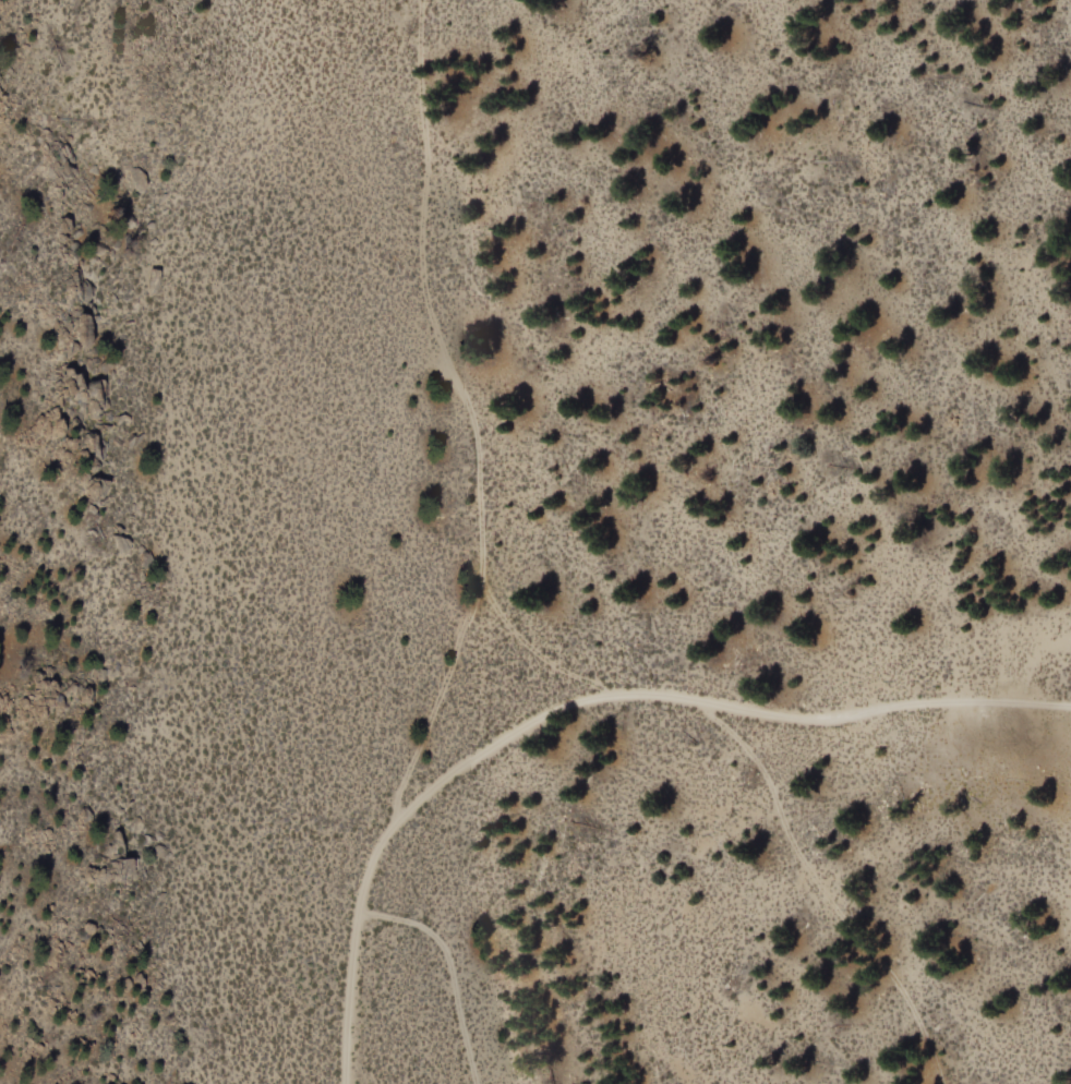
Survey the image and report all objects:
road: (483, 415)
road: (531, 664)
road: (587, 702)
road: (815, 894)
road: (381, 937)
road: (459, 966)

